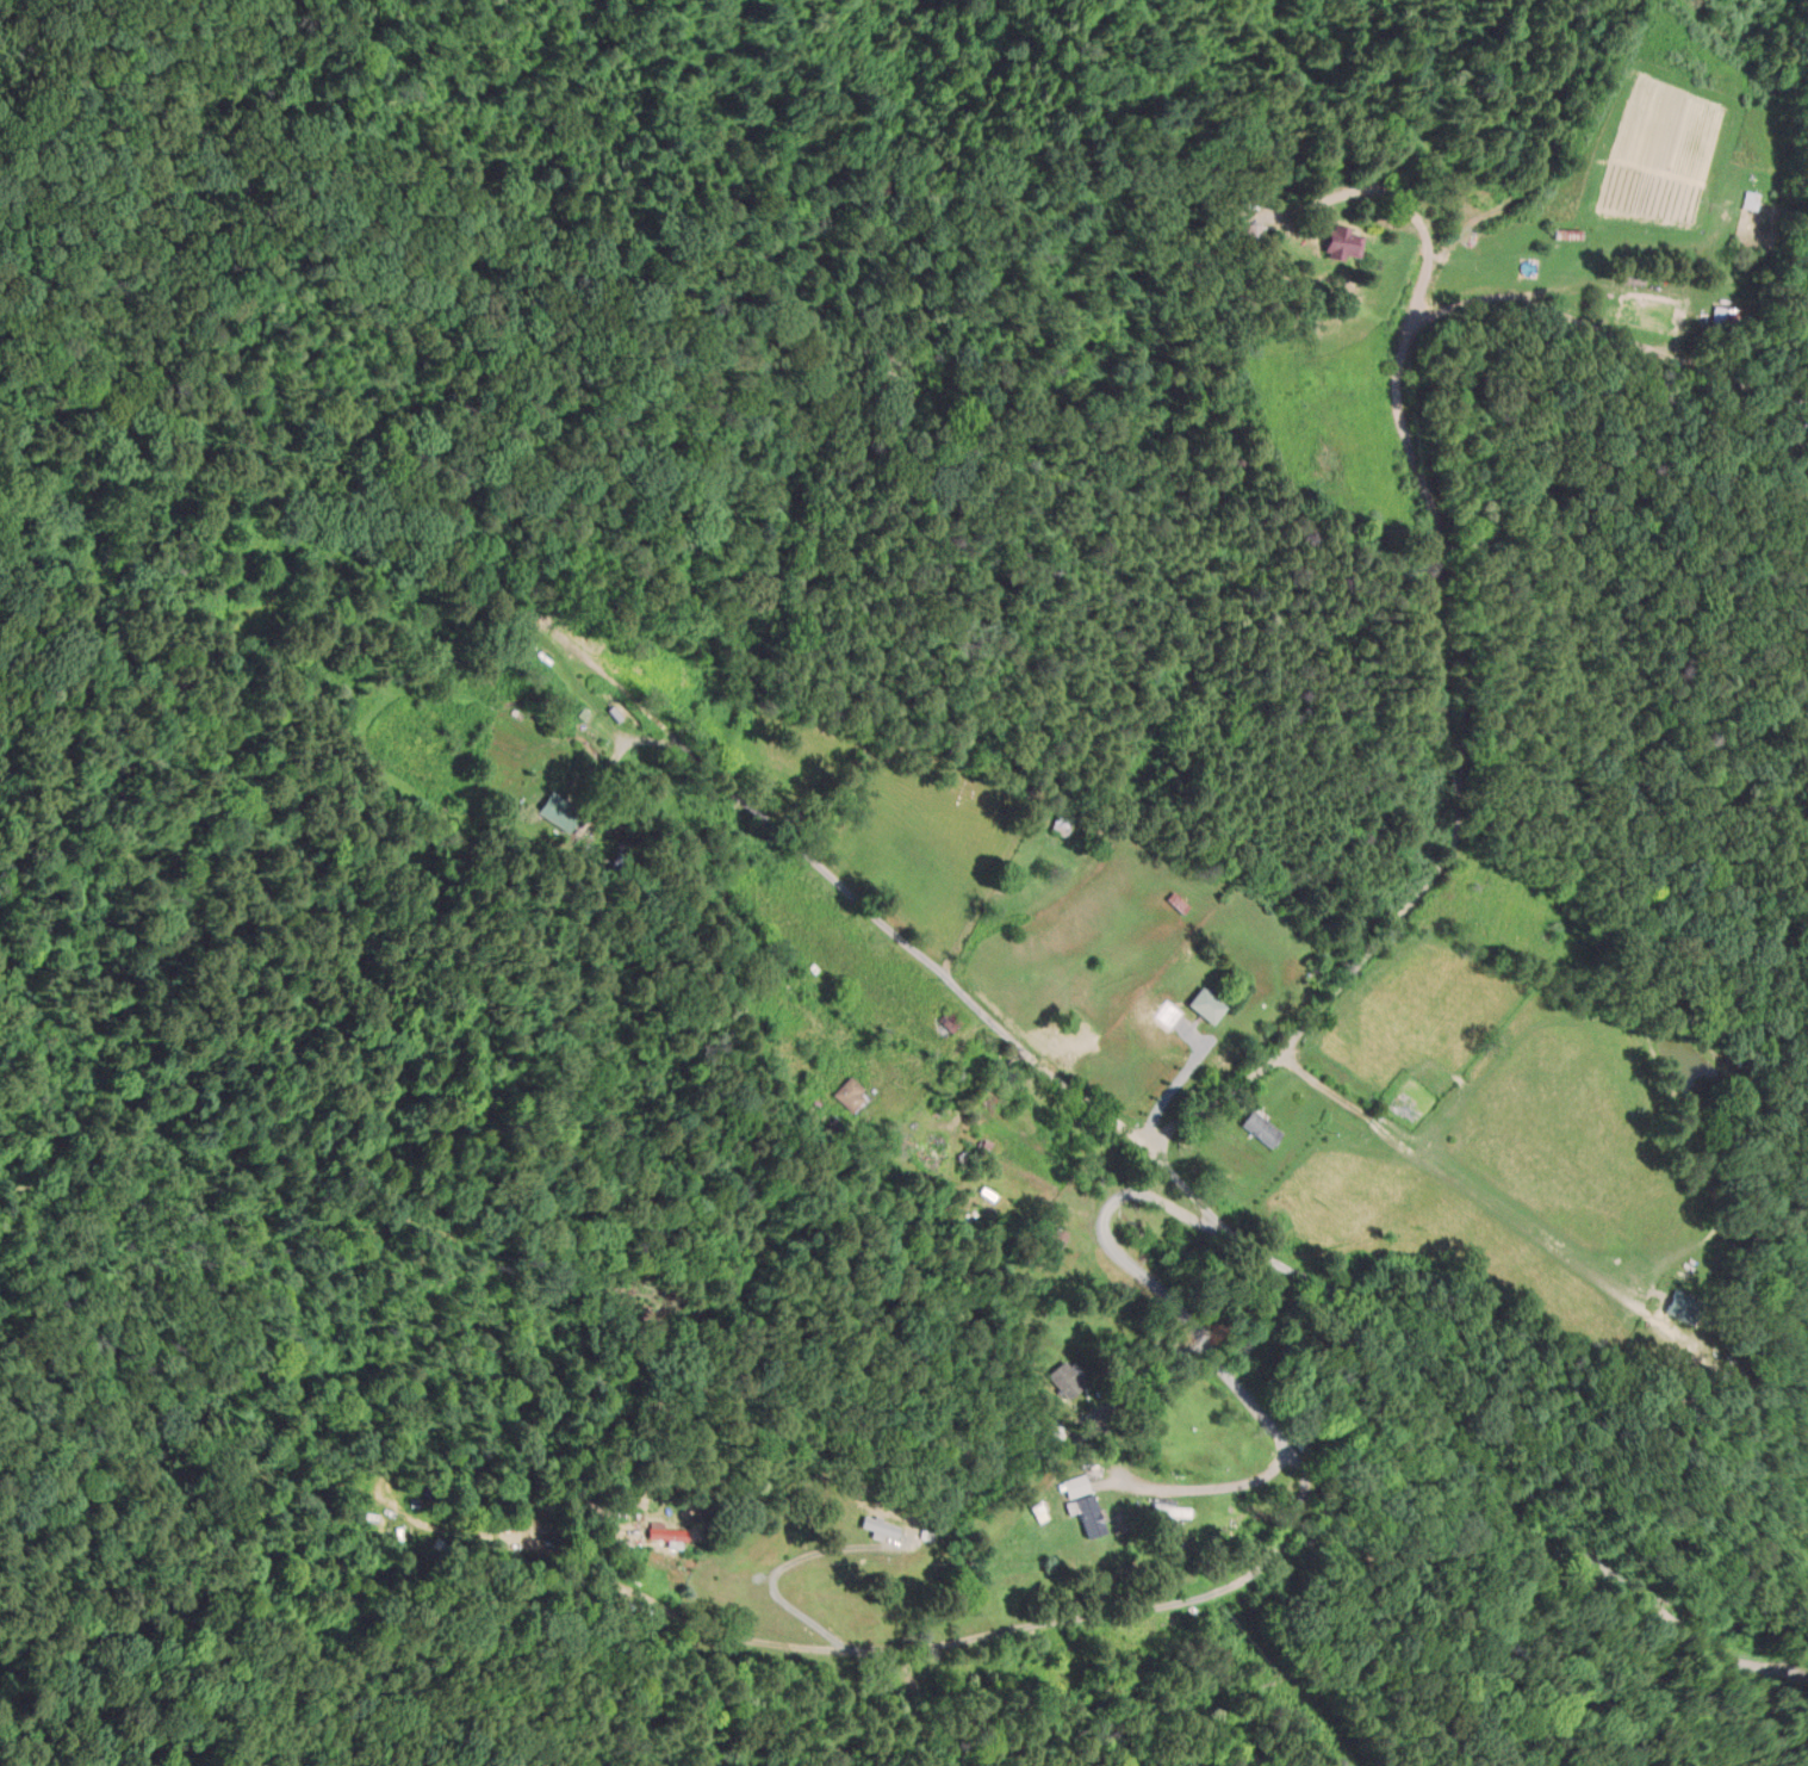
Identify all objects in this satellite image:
building: (1748, 200)
building: (1251, 234)
building: (1338, 243)
building: (1722, 318)
road: (1443, 601)
building: (1062, 819)
building: (1176, 901)
road: (906, 944)
building: (1205, 1005)
building: (850, 1096)
building: (1259, 1128)
building: (1683, 1306)
building: (1081, 1504)
building: (372, 1524)
building: (878, 1526)
building: (664, 1533)
road: (1272, 1555)
road: (669, 1616)

